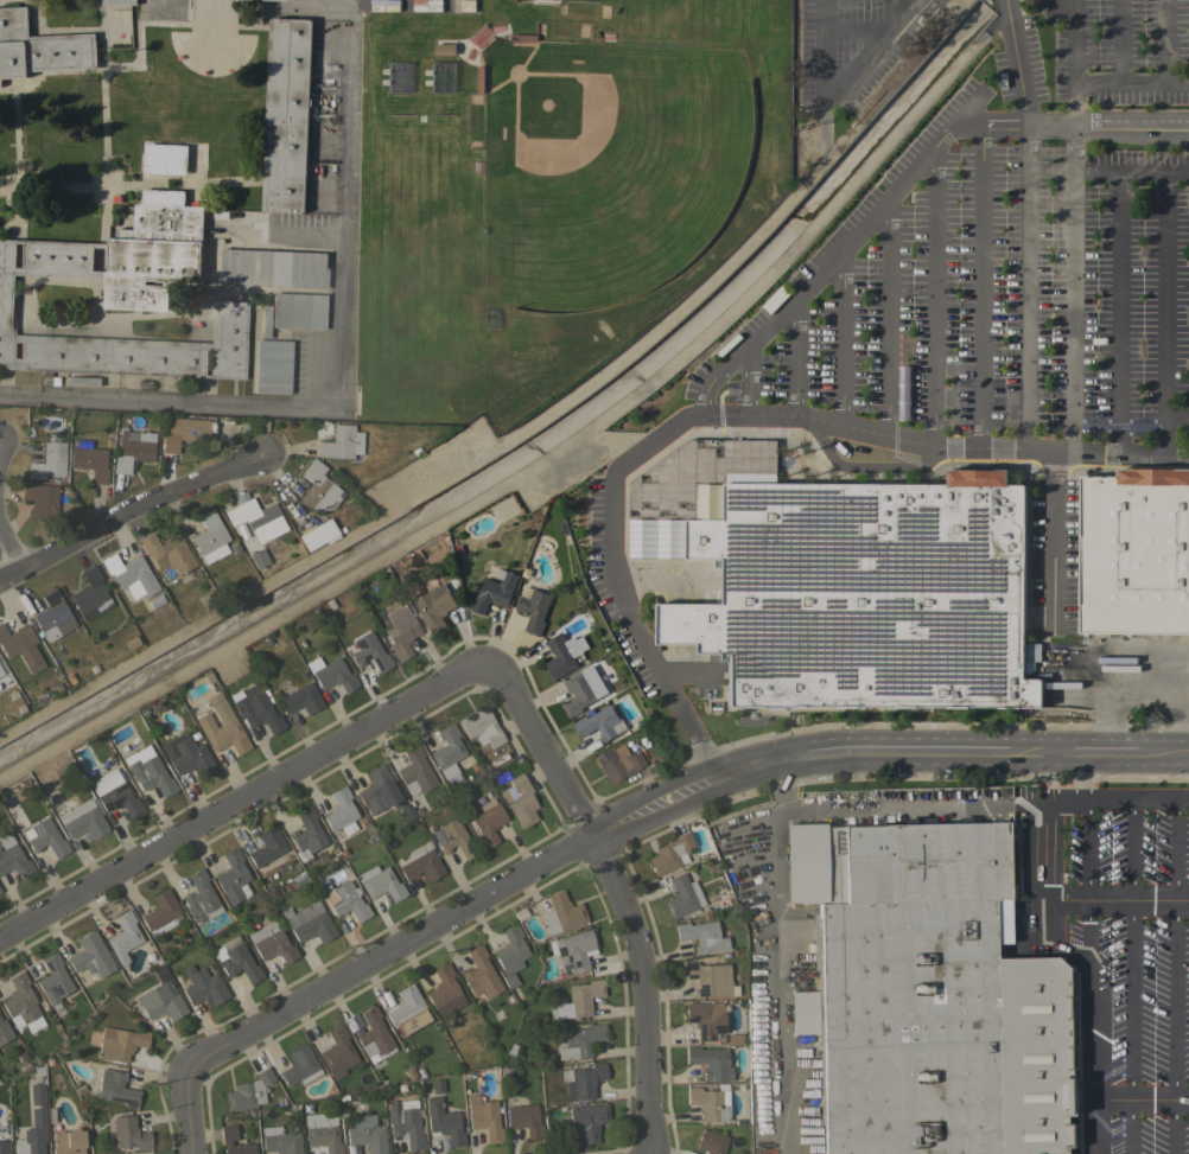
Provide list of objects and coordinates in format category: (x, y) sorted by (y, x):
building: (279, 0)
building: (119, 2)
road: (850, 31)
building: (522, 38)
road: (1073, 39)
road: (1118, 40)
road: (1162, 40)
building: (39, 47)
building: (445, 49)
road: (1016, 60)
building: (400, 77)
building: (444, 77)
building: (481, 79)
road: (1131, 81)
road: (829, 87)
building: (475, 101)
road: (1075, 101)
building: (287, 115)
building: (165, 159)
road: (1132, 167)
building: (273, 268)
road: (981, 286)
road: (1026, 287)
road: (1075, 287)
road: (1164, 292)
building: (126, 298)
road: (930, 299)
building: (298, 310)
road: (1117, 310)
road: (886, 317)
building: (265, 320)
road: (840, 337)
road: (755, 339)
road: (797, 356)
building: (272, 366)
building: (81, 381)
road: (331, 393)
road: (1165, 423)
building: (184, 431)
building: (109, 432)
building: (82, 441)
building: (108, 441)
building: (341, 442)
road: (940, 448)
building: (133, 451)
building: (49, 460)
building: (90, 461)
building: (114, 482)
building: (317, 487)
building: (594, 490)
building: (40, 499)
building: (255, 517)
road: (131, 528)
building: (591, 530)
building: (317, 534)
building: (210, 537)
road: (1054, 542)
building: (234, 547)
road: (9, 550)
building: (167, 553)
building: (1134, 553)
building: (257, 557)
building: (129, 573)
building: (185, 576)
building: (1036, 582)
building: (858, 591)
building: (494, 592)
building: (90, 594)
building: (154, 600)
building: (434, 607)
building: (533, 608)
building: (606, 608)
building: (53, 616)
building: (401, 631)
building: (131, 642)
building: (19, 644)
building: (369, 652)
building: (564, 655)
building: (331, 674)
building: (1, 677)
building: (585, 688)
building: (274, 693)
building: (14, 697)
building: (300, 699)
building: (256, 709)
building: (602, 723)
building: (222, 726)
building: (481, 726)
building: (193, 734)
building: (514, 751)
building: (447, 753)
building: (189, 755)
building: (390, 759)
building: (516, 760)
building: (617, 761)
building: (472, 765)
building: (148, 770)
building: (414, 770)
road: (775, 780)
building: (12, 788)
building: (377, 790)
building: (114, 792)
building: (5, 797)
building: (519, 799)
road: (246, 801)
road: (1095, 801)
building: (422, 805)
road: (891, 808)
building: (341, 811)
building: (407, 811)
building: (82, 820)
road: (618, 823)
building: (485, 824)
road: (1055, 825)
building: (306, 834)
building: (45, 837)
building: (800, 837)
building: (453, 839)
building: (425, 844)
building: (267, 846)
building: (342, 852)
building: (670, 853)
building: (12, 856)
building: (800, 862)
building: (420, 863)
building: (820, 873)
building: (233, 878)
road: (1088, 878)
building: (380, 882)
building: (805, 890)
road: (609, 893)
building: (682, 895)
building: (201, 898)
building: (343, 898)
building: (730, 899)
building: (160, 912)
building: (560, 913)
building: (520, 914)
building: (706, 914)
building: (310, 923)
building: (701, 935)
building: (123, 937)
building: (271, 942)
building: (572, 950)
road: (1081, 950)
building: (510, 954)
building: (90, 955)
building: (235, 958)
building: (756, 968)
building: (481, 974)
road: (1128, 976)
building: (708, 977)
road: (1174, 977)
building: (53, 978)
road: (772, 982)
building: (202, 986)
building: (444, 992)
building: (161, 996)
building: (386, 997)
building: (935, 999)
building: (577, 1000)
building: (21, 1003)
building: (408, 1008)
building: (705, 1018)
building: (802, 1019)
building: (4, 1031)
building: (373, 1035)
building: (735, 1038)
building: (577, 1040)
building: (120, 1043)
building: (510, 1048)
building: (337, 1052)
building: (708, 1061)
building: (24, 1065)
building: (300, 1066)
building: (37, 1069)
building: (420, 1070)
building: (409, 1073)
building: (583, 1082)
building: (115, 1088)
building: (248, 1091)
building: (36, 1094)
road: (1142, 1096)
building: (710, 1101)
building: (294, 1107)
building: (305, 1108)
building: (249, 1112)
building: (342, 1115)
building: (441, 1116)
building: (484, 1117)
building: (523, 1118)
building: (586, 1120)
building: (405, 1122)
building: (322, 1131)
building: (129, 1133)
building: (32, 1134)
building: (367, 1134)
building: (227, 1139)
building: (279, 1140)
building: (68, 1141)
building: (711, 1141)
building: (4, 1147)
building: (351, 1149)

